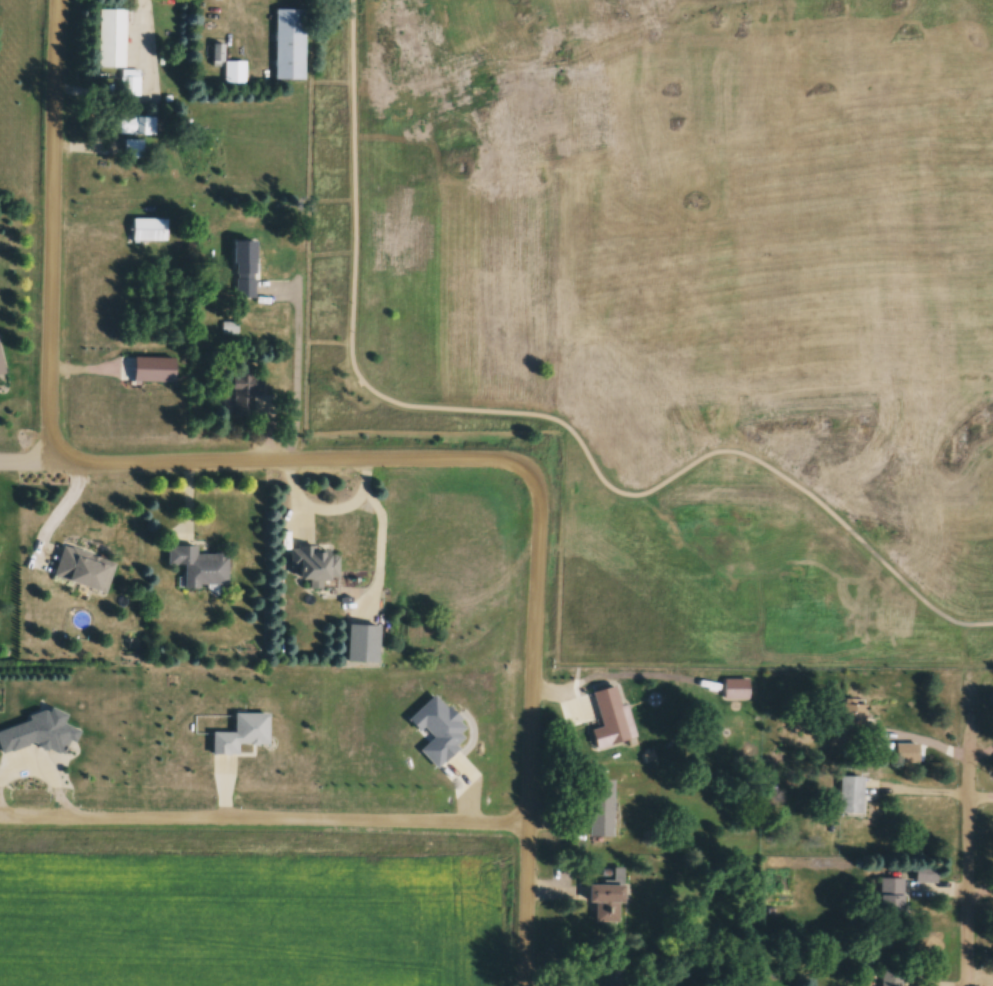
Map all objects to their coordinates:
building: (112, 40)
building: (291, 46)
building: (235, 74)
building: (131, 84)
building: (137, 127)
building: (134, 150)
building: (150, 231)
building: (245, 271)
park: (680, 304)
building: (1, 367)
building: (251, 398)
road: (535, 416)
road: (323, 461)
road: (37, 463)
building: (200, 566)
building: (316, 566)
building: (84, 570)
building: (736, 690)
road: (969, 710)
building: (612, 718)
building: (854, 720)
building: (851, 796)
building: (602, 809)
road: (263, 821)
road: (965, 868)
building: (928, 876)
building: (608, 900)
building: (892, 908)
building: (892, 978)

